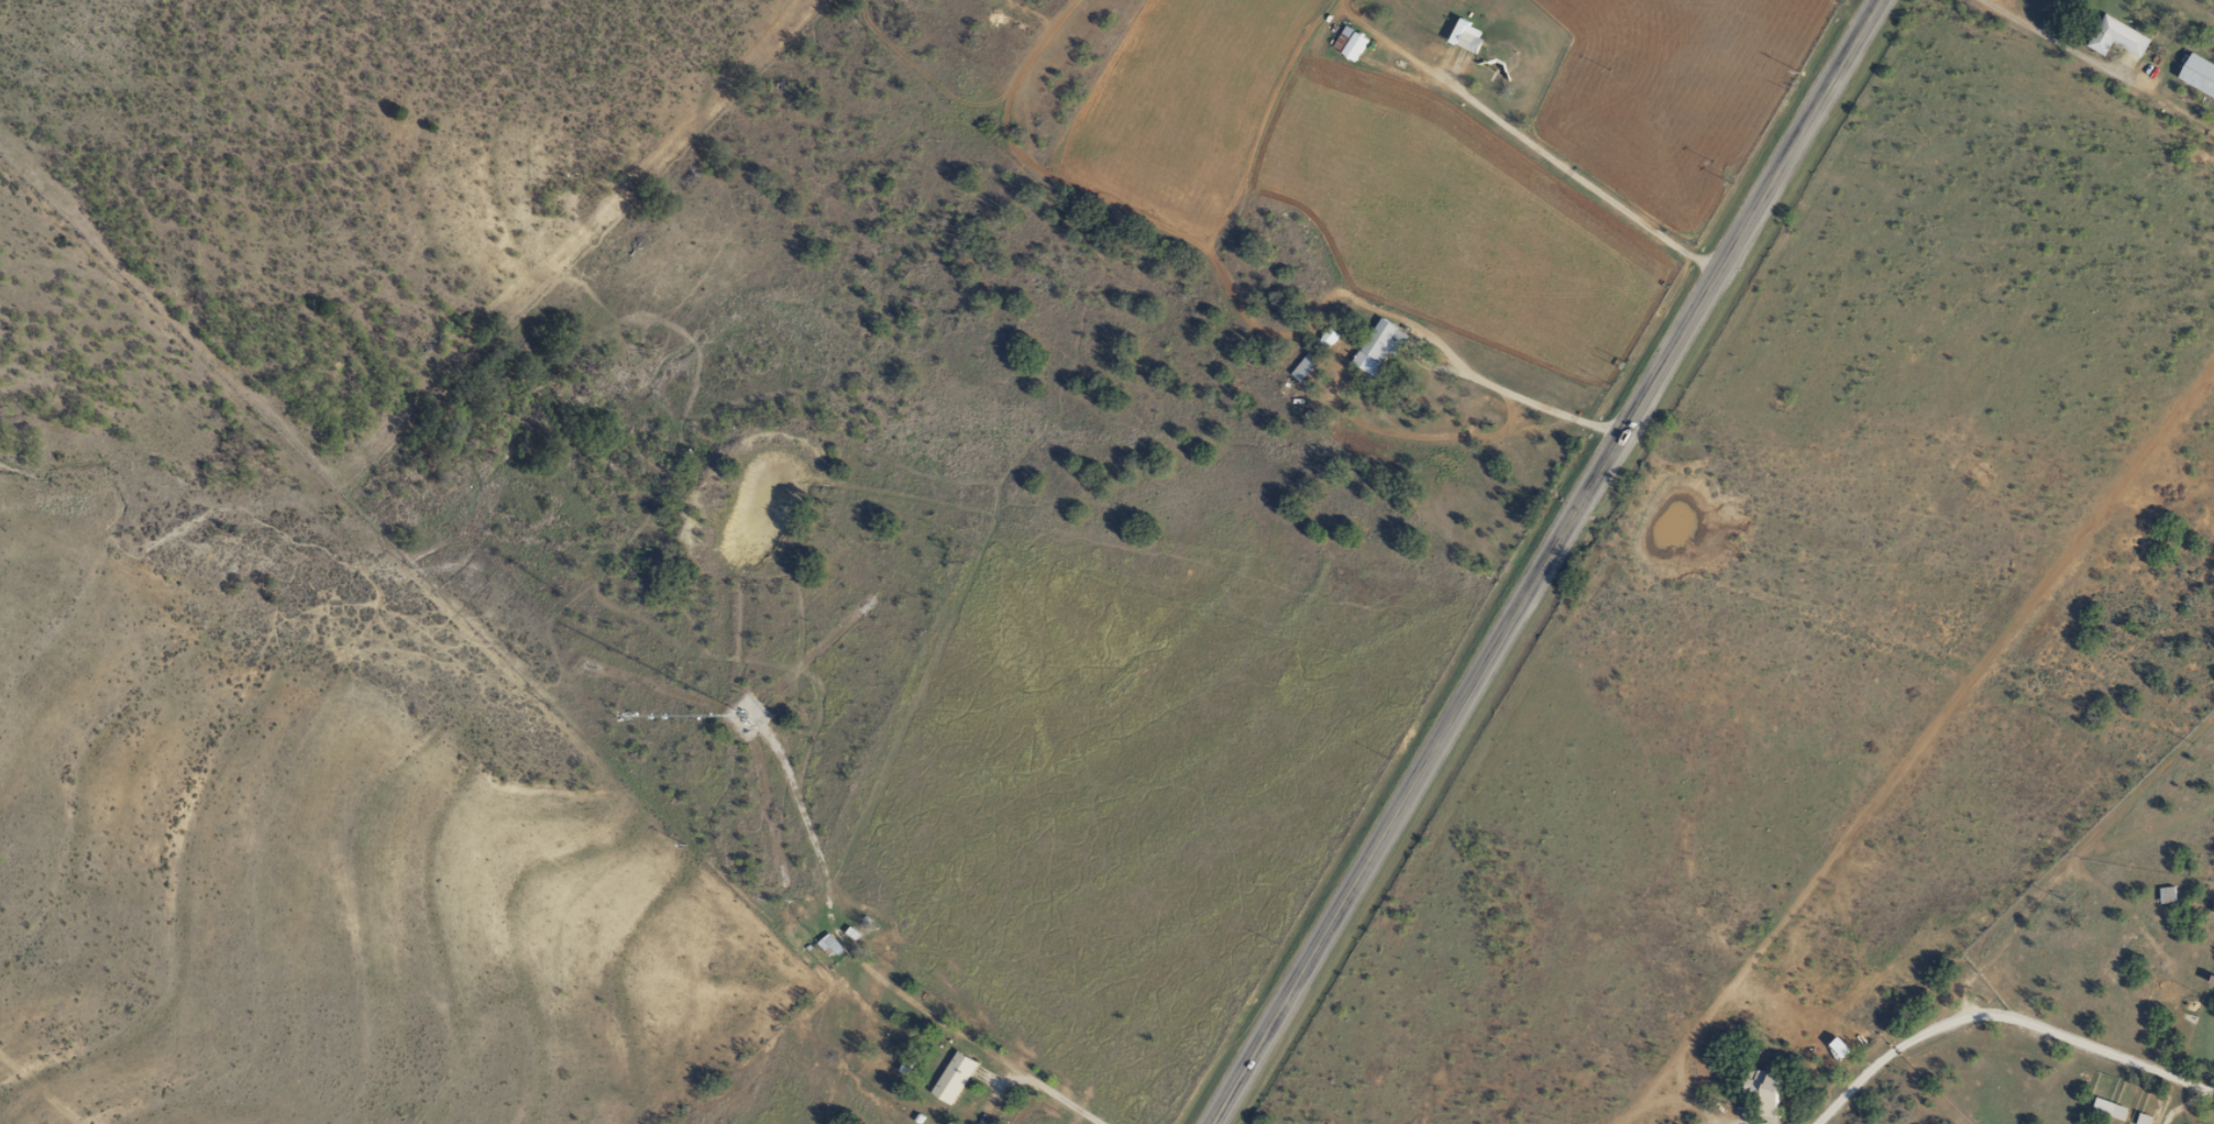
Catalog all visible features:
building: (1463, 35)
building: (2114, 37)
building: (1345, 43)
building: (2196, 74)
building: (1330, 335)
building: (1384, 340)
building: (1304, 366)
road: (1542, 562)
building: (2163, 894)
building: (830, 945)
building: (955, 1077)
building: (1760, 1089)
building: (2105, 1109)
building: (2140, 1119)

